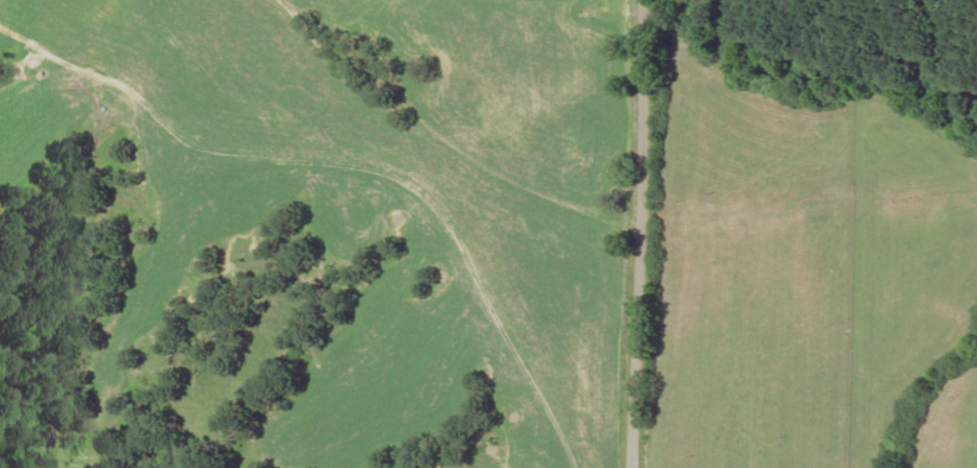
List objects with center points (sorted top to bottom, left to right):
road: (645, 234)

